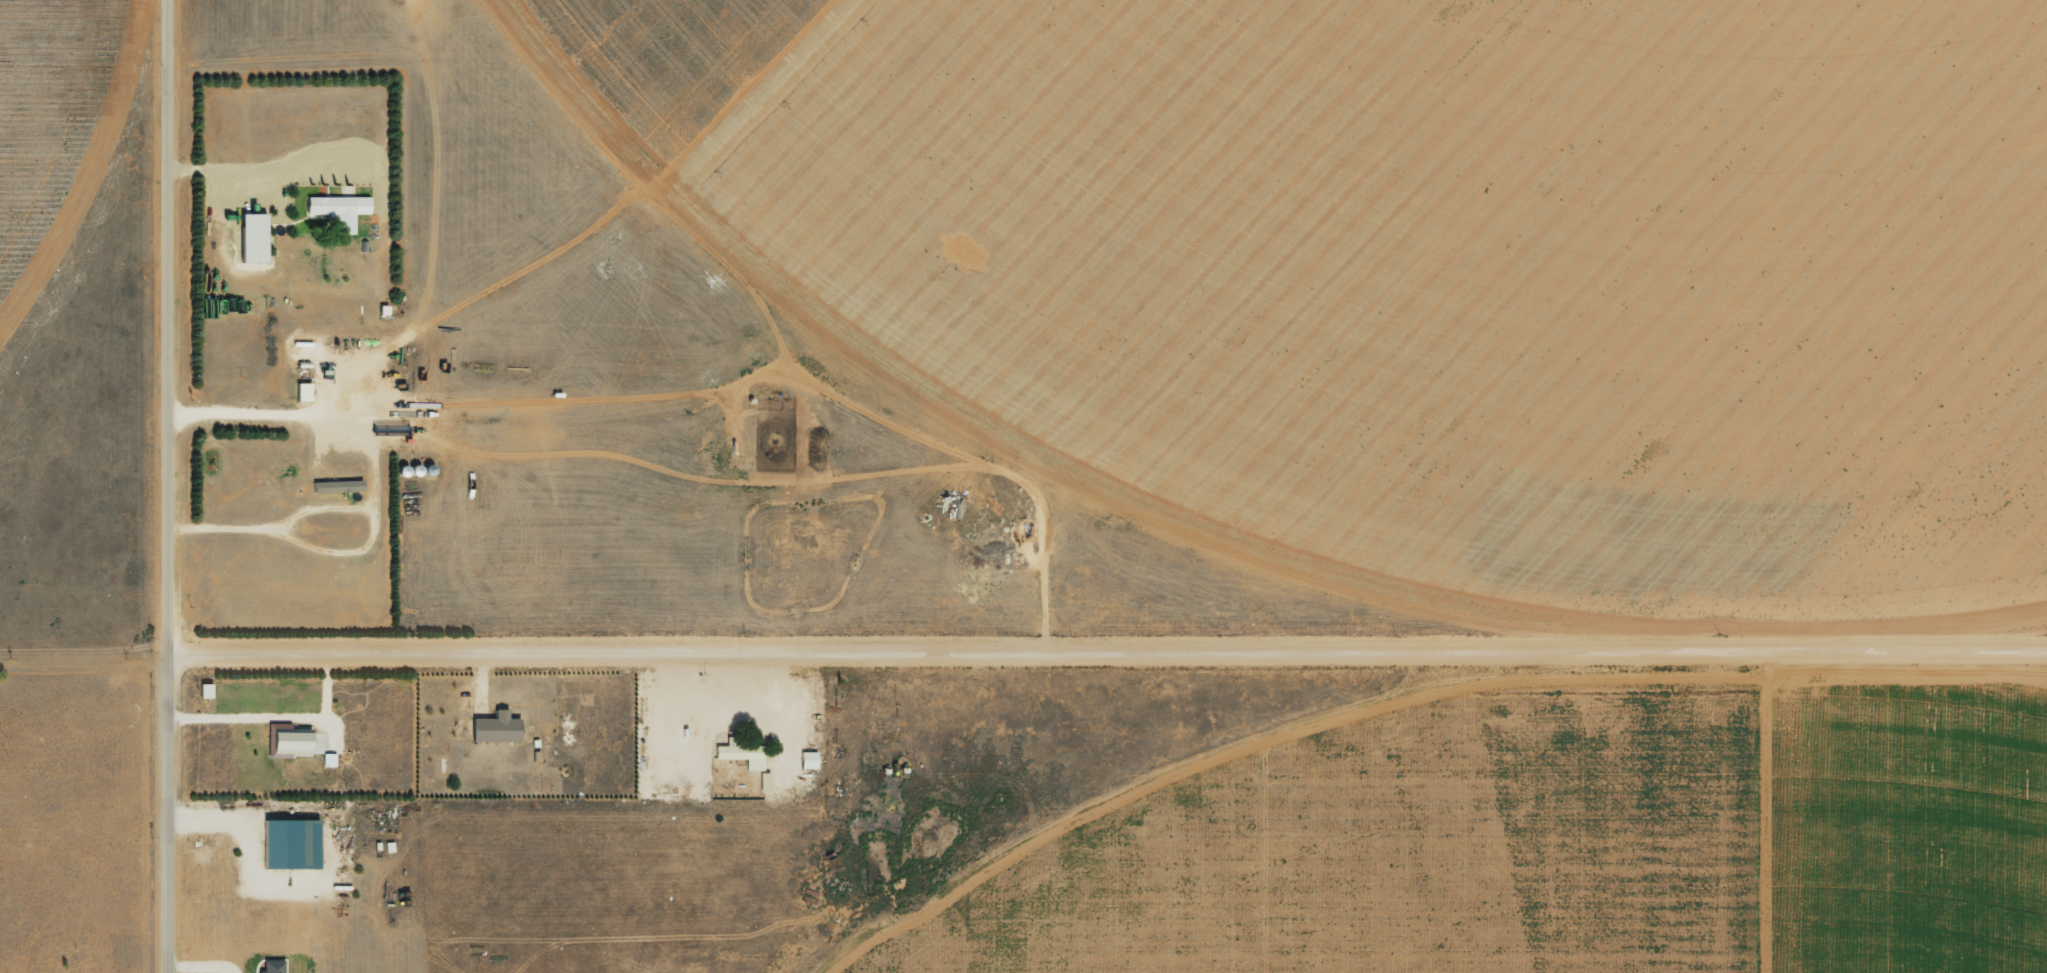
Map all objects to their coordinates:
building: (339, 209)
building: (255, 237)
road: (165, 486)
building: (338, 486)
road: (83, 657)
road: (1106, 662)
building: (497, 728)
building: (299, 744)
building: (742, 753)
building: (330, 759)
building: (809, 760)
road: (1371, 818)
building: (292, 843)

